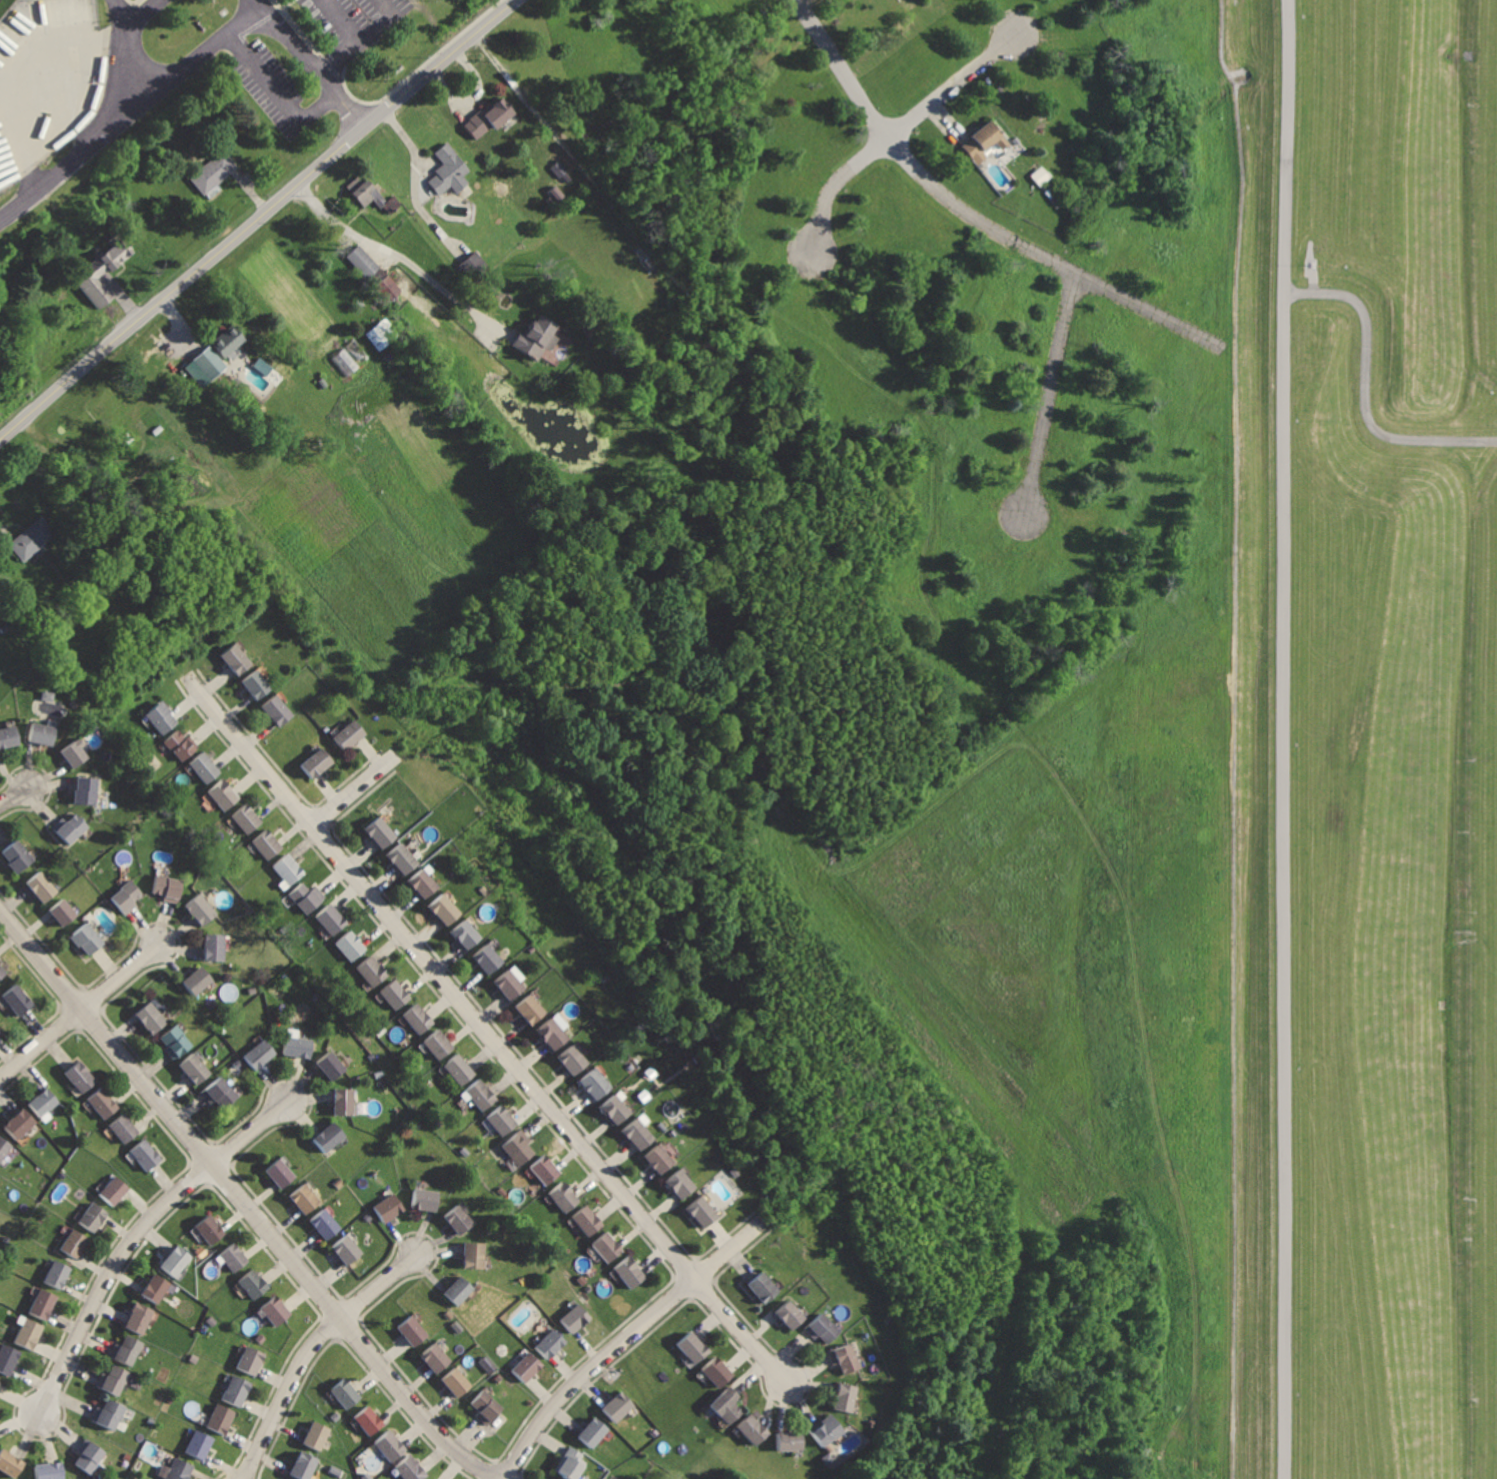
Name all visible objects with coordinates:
road: (132, 1)
road: (282, 3)
road: (259, 10)
road: (140, 15)
road: (340, 20)
parking lot: (354, 21)
road: (295, 26)
road: (361, 38)
road: (122, 52)
road: (328, 66)
road: (185, 67)
road: (415, 70)
road: (13, 75)
parking lot: (56, 88)
road: (277, 93)
road: (526, 98)
building: (488, 117)
road: (893, 132)
building: (983, 142)
building: (448, 169)
building: (212, 171)
building: (364, 191)
road: (970, 213)
road: (255, 216)
building: (360, 259)
road: (406, 259)
building: (472, 263)
building: (104, 270)
building: (387, 286)
building: (383, 333)
building: (538, 338)
building: (229, 342)
building: (343, 361)
building: (208, 362)
building: (261, 365)
road: (1368, 386)
road: (1050, 397)
crop: (382, 505)
road: (7, 531)
building: (35, 539)
building: (236, 658)
building: (257, 684)
building: (46, 695)
building: (279, 710)
building: (163, 720)
building: (43, 734)
building: (349, 734)
building: (9, 737)
airport: (1365, 738)
road: (1282, 739)
building: (182, 746)
building: (76, 754)
building: (317, 763)
building: (206, 768)
building: (88, 790)
road: (14, 791)
road: (354, 791)
building: (226, 795)
building: (249, 819)
building: (72, 829)
building: (382, 832)
building: (269, 845)
building: (18, 855)
building: (405, 860)
building: (290, 869)
building: (424, 884)
building: (43, 885)
building: (169, 887)
building: (309, 897)
building: (126, 898)
building: (202, 909)
building: (447, 909)
building: (64, 911)
building: (332, 920)
building: (466, 933)
building: (87, 938)
building: (215, 947)
building: (351, 947)
building: (488, 958)
building: (3, 970)
building: (373, 971)
building: (197, 981)
building: (509, 984)
building: (396, 995)
building: (20, 998)
road: (76, 1008)
building: (532, 1008)
building: (152, 1017)
building: (418, 1019)
road: (483, 1025)
building: (0, 1029)
building: (555, 1033)
building: (177, 1043)
building: (438, 1043)
building: (298, 1046)
building: (261, 1055)
building: (573, 1059)
building: (331, 1064)
building: (197, 1067)
building: (459, 1068)
building: (82, 1076)
building: (596, 1084)
building: (221, 1090)
building: (481, 1095)
building: (44, 1100)
building: (344, 1101)
building: (104, 1103)
building: (615, 1109)
building: (503, 1120)
building: (20, 1123)
building: (126, 1127)
building: (638, 1133)
building: (330, 1138)
building: (4, 1146)
building: (521, 1147)
building: (147, 1155)
building: (660, 1159)
building: (546, 1169)
building: (283, 1172)
building: (681, 1185)
building: (116, 1190)
building: (565, 1197)
building: (304, 1198)
building: (425, 1200)
road: (242, 1201)
building: (388, 1207)
building: (703, 1212)
building: (95, 1216)
building: (460, 1219)
building: (588, 1221)
building: (327, 1224)
building: (212, 1229)
road: (133, 1233)
building: (76, 1244)
building: (607, 1247)
building: (349, 1250)
building: (475, 1253)
building: (234, 1257)
building: (179, 1261)
building: (631, 1272)
building: (59, 1274)
building: (253, 1284)
building: (763, 1286)
building: (157, 1289)
building: (458, 1291)
building: (45, 1303)
building: (275, 1311)
building: (790, 1314)
building: (575, 1319)
building: (141, 1320)
building: (822, 1328)
building: (414, 1330)
building: (31, 1333)
road: (624, 1341)
building: (550, 1343)
building: (693, 1346)
road: (305, 1347)
building: (126, 1350)
building: (437, 1357)
building: (844, 1357)
building: (9, 1360)
building: (253, 1360)
building: (528, 1367)
building: (716, 1372)
building: (0, 1381)
building: (115, 1381)
building: (456, 1383)
building: (1, 1385)
building: (238, 1392)
building: (348, 1393)
building: (846, 1396)
building: (727, 1405)
building: (487, 1407)
building: (617, 1407)
building: (109, 1415)
building: (223, 1419)
building: (370, 1420)
building: (754, 1430)
building: (824, 1430)
building: (593, 1432)
building: (318, 1435)
building: (789, 1440)
building: (202, 1444)
building: (390, 1445)
building: (91, 1456)
building: (11, 1462)
building: (572, 1464)
building: (305, 1466)
building: (413, 1468)
building: (50, 1470)
building: (182, 1470)

